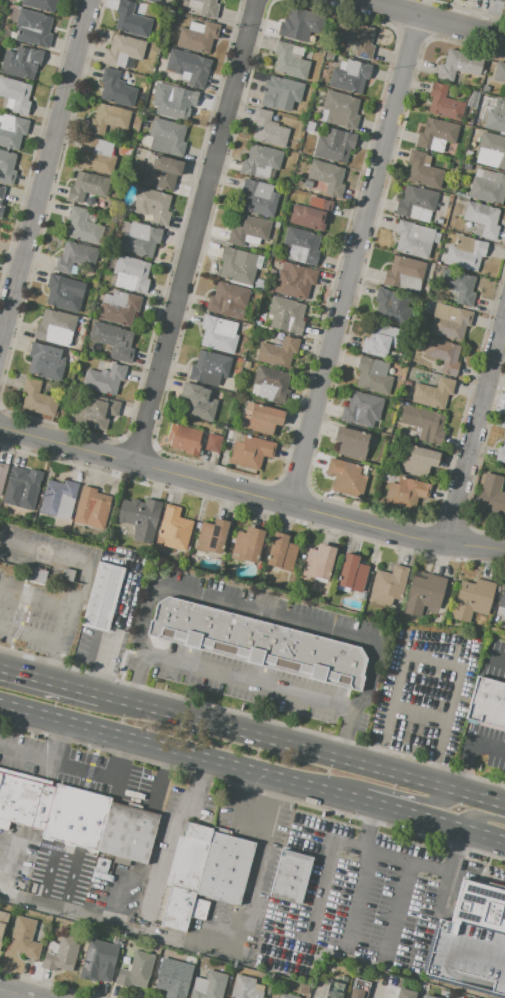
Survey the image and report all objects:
building: (501, 0)
building: (154, 1)
building: (39, 4)
building: (209, 7)
building: (131, 18)
road: (431, 19)
building: (300, 25)
building: (33, 27)
building: (198, 36)
building: (356, 37)
building: (123, 49)
building: (21, 62)
building: (289, 62)
building: (459, 65)
building: (189, 68)
building: (499, 72)
building: (350, 76)
building: (116, 88)
building: (485, 89)
building: (281, 93)
building: (15, 95)
building: (176, 102)
building: (444, 102)
building: (340, 109)
building: (496, 117)
building: (108, 119)
building: (268, 128)
building: (11, 131)
building: (437, 135)
building: (165, 137)
building: (334, 144)
building: (491, 150)
building: (96, 154)
building: (260, 161)
building: (7, 166)
building: (422, 169)
road: (44, 173)
building: (162, 173)
building: (327, 177)
building: (308, 184)
building: (86, 186)
building: (487, 186)
building: (1, 192)
building: (258, 198)
building: (416, 203)
building: (153, 205)
building: (1, 209)
building: (311, 213)
building: (482, 219)
building: (277, 224)
building: (83, 226)
building: (248, 230)
road: (196, 232)
building: (139, 239)
building: (415, 239)
building: (301, 246)
building: (465, 253)
building: (75, 258)
road: (354, 260)
building: (237, 265)
building: (129, 274)
building: (405, 274)
building: (295, 281)
building: (459, 285)
building: (62, 294)
building: (227, 299)
building: (391, 306)
building: (119, 307)
building: (286, 314)
building: (449, 322)
building: (56, 328)
building: (219, 334)
building: (112, 339)
building: (382, 340)
building: (278, 352)
building: (443, 354)
building: (45, 361)
building: (246, 364)
building: (209, 367)
building: (373, 375)
building: (105, 379)
building: (271, 384)
building: (63, 390)
building: (433, 393)
building: (38, 398)
building: (197, 401)
building: (362, 408)
building: (95, 412)
building: (262, 418)
building: (504, 425)
building: (428, 426)
road: (474, 430)
building: (229, 432)
building: (186, 438)
building: (213, 442)
building: (350, 442)
building: (251, 452)
building: (501, 453)
building: (418, 461)
building: (2, 475)
building: (346, 477)
building: (24, 487)
building: (405, 493)
road: (251, 494)
building: (491, 494)
building: (59, 498)
building: (92, 508)
building: (140, 517)
building: (174, 528)
building: (212, 535)
building: (248, 544)
building: (281, 551)
building: (318, 562)
building: (352, 573)
building: (68, 574)
building: (37, 576)
building: (388, 585)
building: (424, 592)
building: (101, 598)
building: (472, 598)
building: (501, 603)
road: (65, 605)
road: (265, 615)
road: (140, 619)
building: (504, 620)
road: (112, 627)
building: (258, 643)
road: (434, 652)
road: (496, 659)
road: (141, 665)
road: (373, 673)
road: (52, 677)
road: (248, 682)
road: (133, 687)
road: (117, 695)
building: (488, 703)
road: (421, 707)
road: (351, 709)
road: (344, 742)
road: (57, 743)
road: (318, 749)
road: (470, 751)
road: (162, 769)
road: (78, 770)
road: (252, 773)
road: (253, 789)
road: (401, 795)
building: (23, 802)
building: (76, 817)
road: (482, 818)
building: (128, 833)
road: (171, 840)
building: (189, 857)
road: (3, 865)
building: (225, 868)
road: (257, 869)
parking lot: (67, 874)
building: (291, 877)
road: (55, 887)
road: (108, 904)
building: (177, 908)
building: (199, 909)
building: (3, 924)
road: (116, 925)
building: (25, 937)
building: (473, 941)
building: (66, 953)
building: (97, 960)
building: (136, 970)
building: (171, 978)
building: (344, 979)
road: (54, 983)
building: (209, 986)
building: (246, 988)
building: (359, 989)
building: (334, 990)
building: (405, 993)
road: (13, 994)
building: (287, 995)
building: (427, 996)
building: (320, 997)

